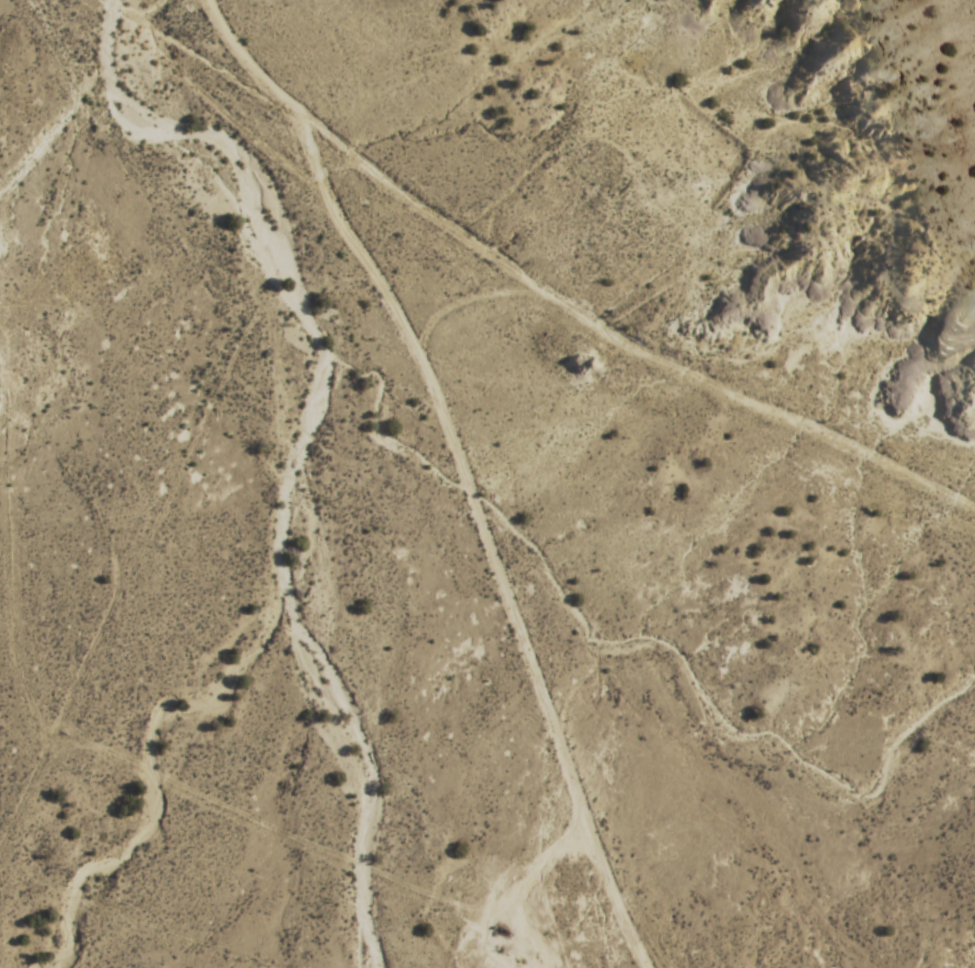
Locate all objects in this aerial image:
road: (134, 12)
road: (158, 12)
road: (245, 57)
road: (222, 67)
road: (95, 155)
river: (269, 237)
road: (620, 329)
road: (481, 533)

